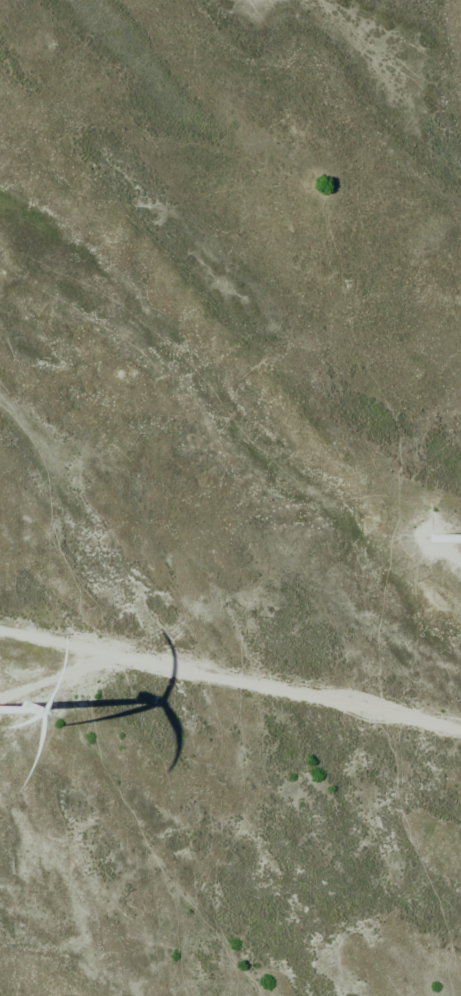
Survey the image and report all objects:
wind turbine: (435, 544)

